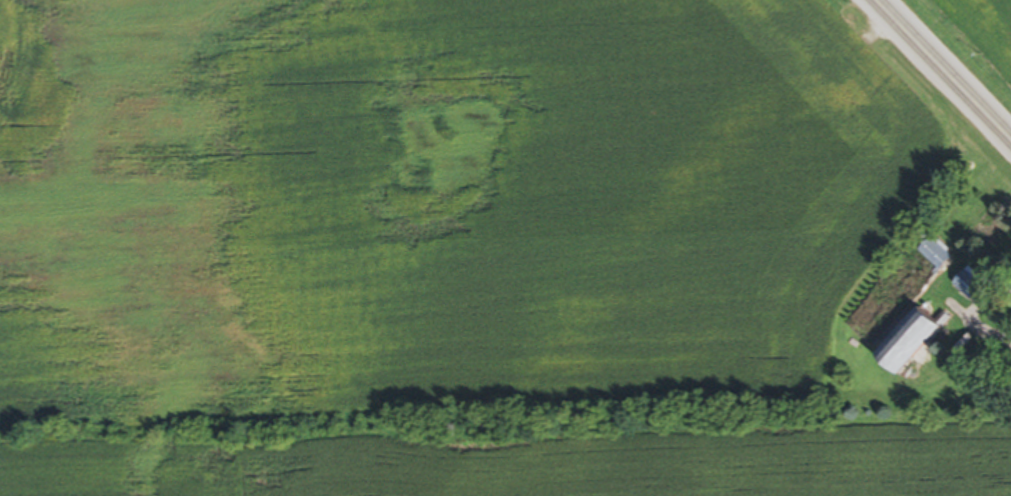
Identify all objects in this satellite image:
road: (943, 69)
building: (937, 257)
building: (972, 286)
building: (913, 342)

